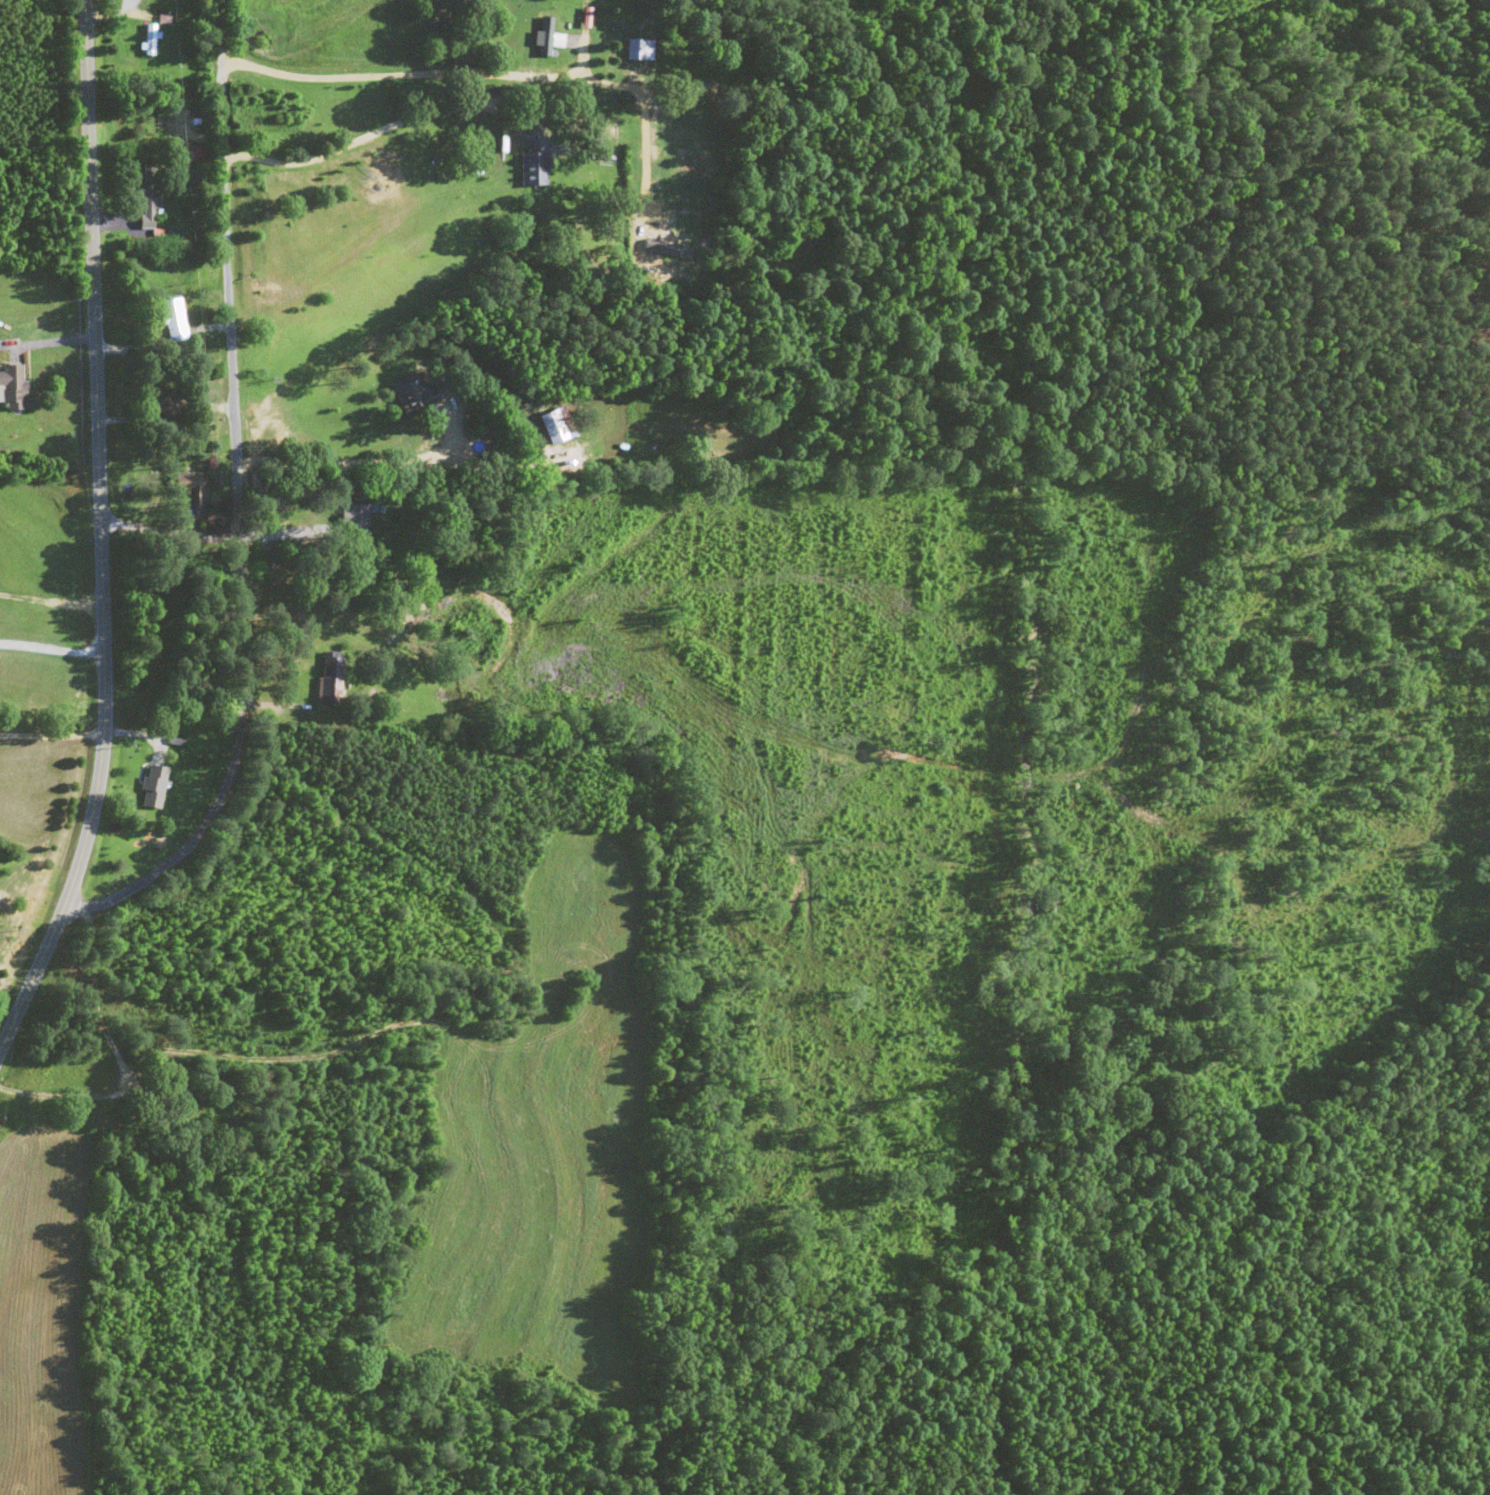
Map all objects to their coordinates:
building: (545, 40)
building: (640, 50)
building: (199, 155)
building: (536, 164)
building: (149, 198)
road: (529, 212)
road: (1405, 293)
building: (175, 322)
road: (233, 330)
building: (13, 385)
building: (419, 394)
building: (167, 404)
building: (555, 428)
building: (190, 484)
road: (64, 489)
building: (356, 520)
building: (331, 680)
road: (407, 745)
building: (154, 788)

